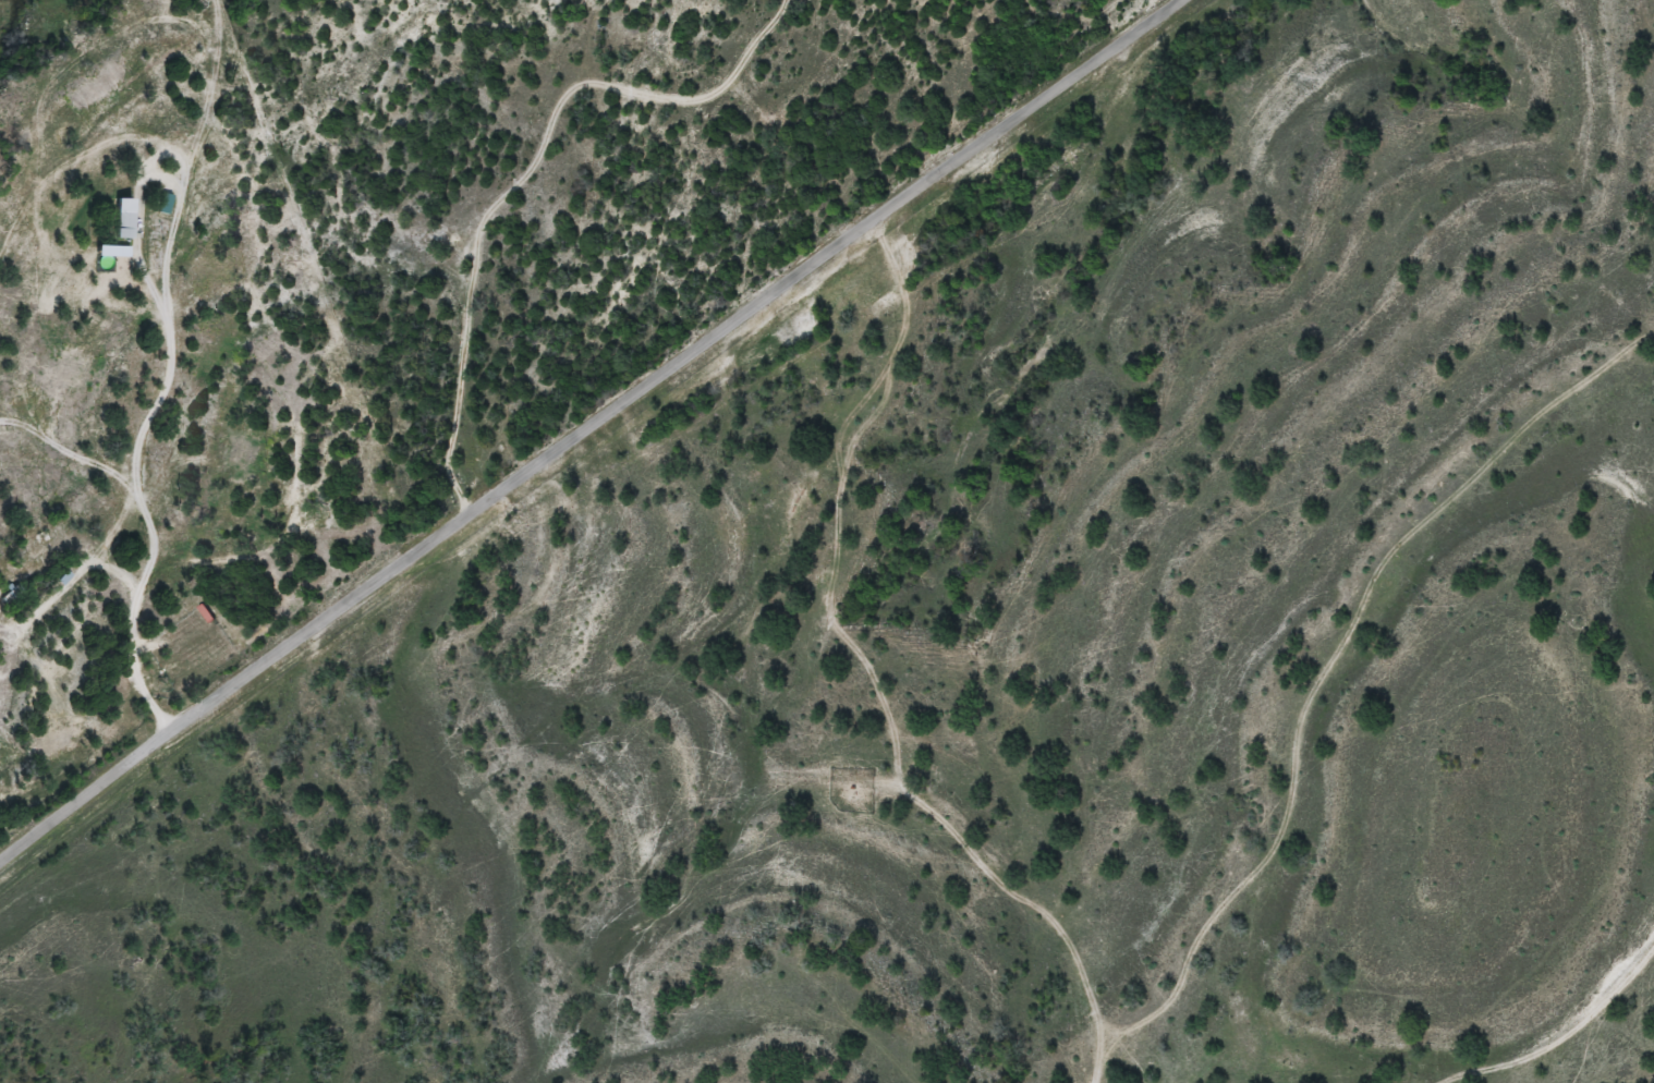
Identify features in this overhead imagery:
road: (510, 184)
building: (166, 203)
building: (126, 223)
road: (589, 439)
building: (38, 551)
road: (1508, 1014)

